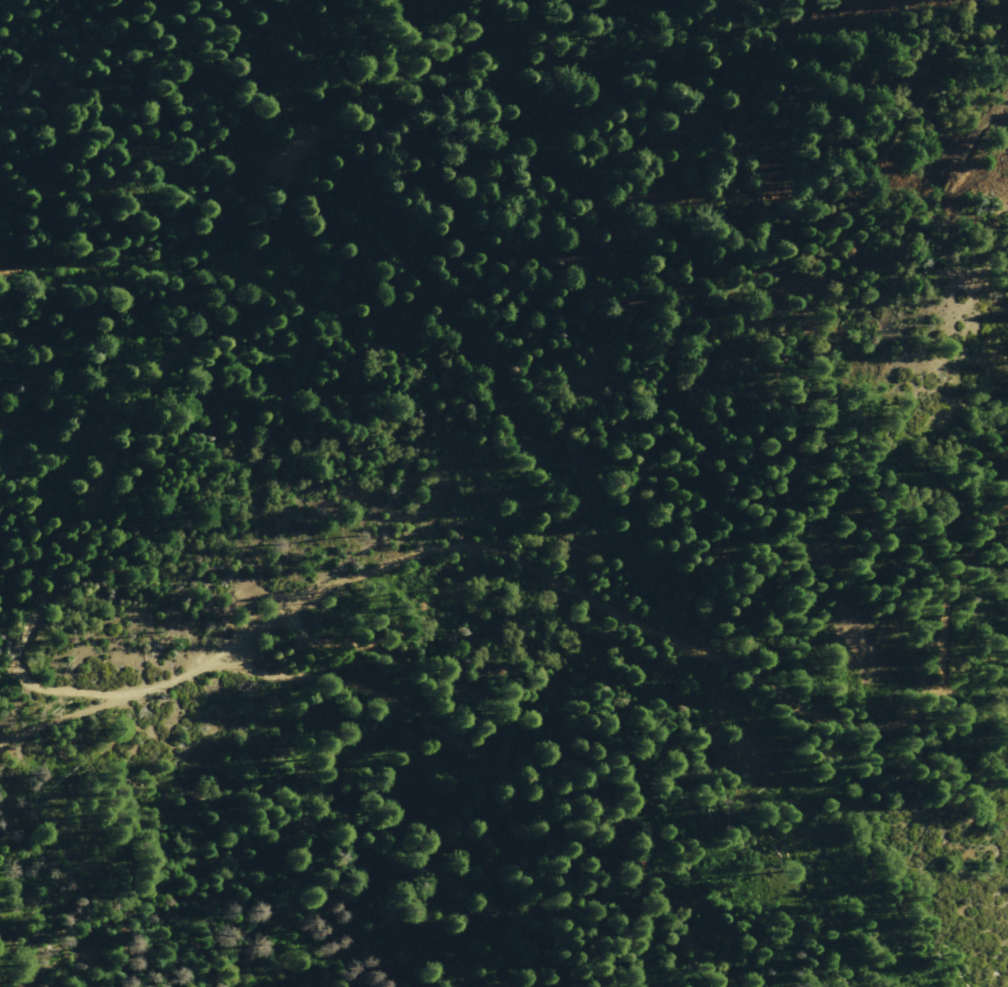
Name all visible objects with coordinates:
road: (166, 370)
road: (718, 661)
road: (216, 662)
road: (64, 727)
road: (484, 743)
road: (546, 754)

